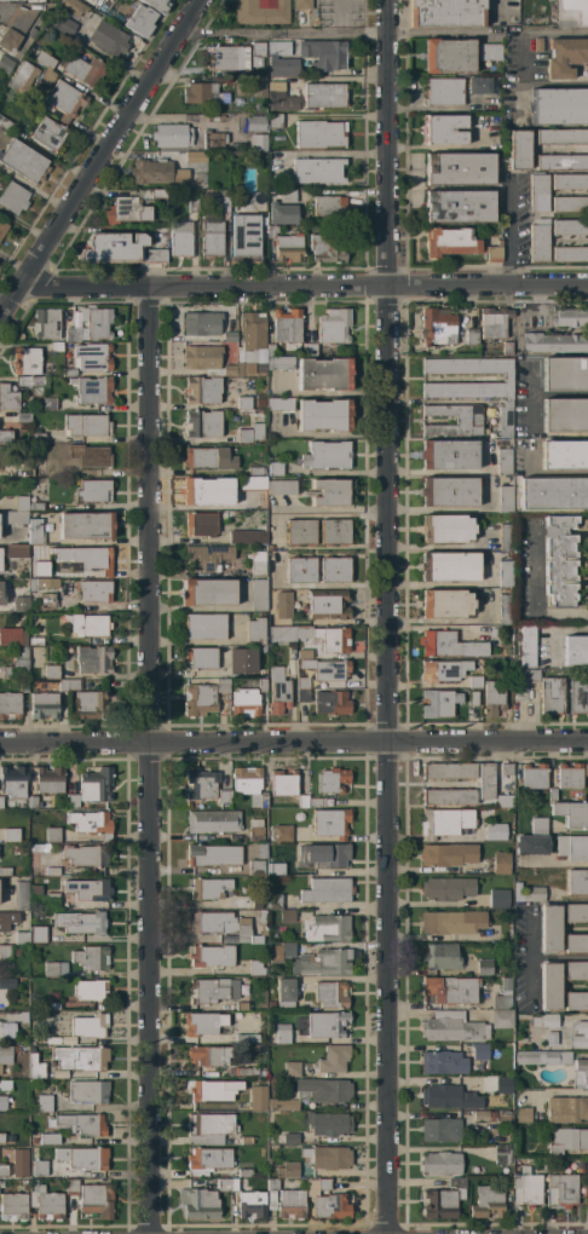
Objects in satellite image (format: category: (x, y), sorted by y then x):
building: (131, 0)
building: (302, 4)
road: (341, 4)
building: (157, 5)
building: (73, 6)
road: (495, 7)
building: (261, 12)
parking lot: (341, 13)
building: (446, 13)
building: (571, 13)
building: (140, 21)
building: (63, 24)
building: (16, 28)
road: (382, 33)
building: (108, 38)
building: (538, 45)
building: (258, 48)
building: (490, 51)
building: (323, 53)
building: (449, 56)
building: (565, 56)
building: (45, 58)
building: (227, 58)
building: (282, 59)
building: (259, 62)
building: (6, 63)
building: (86, 70)
building: (47, 76)
building: (23, 80)
building: (480, 85)
building: (260, 86)
building: (444, 91)
building: (204, 93)
building: (325, 94)
building: (282, 97)
building: (67, 99)
building: (560, 105)
building: (479, 119)
building: (275, 120)
building: (253, 122)
building: (5, 123)
building: (445, 129)
building: (50, 133)
building: (321, 133)
building: (172, 135)
building: (559, 135)
building: (214, 139)
building: (259, 143)
building: (519, 150)
building: (196, 156)
road: (99, 160)
building: (24, 161)
building: (561, 161)
building: (460, 168)
building: (317, 169)
building: (156, 172)
building: (197, 178)
building: (570, 181)
building: (538, 191)
building: (264, 196)
building: (13, 197)
building: (220, 202)
building: (570, 203)
building: (192, 204)
building: (329, 206)
building: (459, 206)
building: (132, 207)
building: (284, 208)
building: (570, 226)
building: (2, 229)
building: (272, 231)
road: (509, 231)
building: (246, 232)
building: (212, 237)
building: (180, 238)
building: (450, 241)
building: (538, 243)
building: (288, 247)
building: (111, 248)
building: (156, 248)
building: (327, 248)
building: (495, 253)
building: (570, 253)
road: (306, 282)
building: (570, 317)
building: (495, 322)
building: (46, 324)
building: (99, 324)
building: (203, 324)
building: (334, 325)
building: (438, 327)
building: (287, 328)
building: (73, 334)
building: (472, 335)
building: (230, 338)
building: (250, 341)
building: (554, 342)
building: (57, 346)
building: (507, 348)
building: (272, 350)
building: (311, 350)
building: (92, 357)
building: (27, 361)
building: (207, 361)
building: (281, 363)
building: (70, 373)
building: (324, 373)
building: (566, 373)
building: (30, 381)
building: (474, 384)
building: (92, 390)
building: (203, 390)
road: (559, 394)
building: (7, 398)
building: (50, 403)
building: (244, 403)
building: (260, 403)
building: (281, 404)
building: (260, 414)
building: (566, 414)
building: (324, 415)
building: (24, 417)
building: (468, 420)
building: (87, 425)
building: (201, 426)
building: (250, 433)
building: (6, 436)
building: (449, 454)
building: (565, 454)
building: (327, 455)
building: (90, 456)
building: (204, 456)
building: (505, 461)
building: (42, 466)
building: (276, 468)
building: (255, 471)
building: (254, 483)
building: (282, 486)
building: (94, 491)
building: (207, 491)
building: (330, 491)
building: (449, 491)
building: (554, 494)
building: (506, 498)
building: (36, 504)
building: (16, 513)
building: (201, 524)
building: (86, 525)
building: (446, 529)
building: (335, 531)
building: (36, 532)
building: (301, 532)
building: (248, 536)
building: (506, 536)
building: (18, 552)
building: (87, 557)
building: (207, 558)
building: (1, 559)
building: (560, 560)
building: (258, 564)
building: (449, 566)
building: (40, 569)
building: (301, 569)
building: (335, 569)
building: (506, 573)
building: (24, 590)
building: (96, 590)
building: (208, 592)
building: (0, 594)
road: (534, 594)
building: (259, 595)
building: (47, 600)
building: (446, 604)
building: (284, 605)
building: (328, 605)
building: (506, 609)
road: (387, 617)
building: (90, 624)
building: (206, 627)
building: (255, 630)
road: (555, 630)
building: (11, 636)
building: (313, 636)
building: (36, 640)
building: (449, 645)
building: (528, 646)
building: (576, 650)
building: (293, 651)
building: (305, 655)
building: (201, 658)
building: (94, 659)
building: (242, 661)
building: (17, 665)
building: (328, 669)
building: (440, 670)
building: (52, 671)
building: (475, 681)
building: (304, 682)
building: (69, 685)
building: (24, 686)
building: (523, 688)
building: (278, 691)
building: (203, 694)
building: (552, 694)
building: (302, 696)
building: (578, 696)
building: (494, 697)
building: (246, 702)
building: (332, 702)
building: (439, 703)
building: (45, 704)
building: (92, 704)
building: (10, 705)
building: (474, 710)
road: (293, 742)
road: (149, 760)
building: (507, 768)
building: (587, 769)
building: (450, 771)
building: (534, 775)
building: (571, 775)
building: (50, 779)
building: (247, 779)
building: (15, 780)
building: (333, 780)
building: (486, 780)
building: (283, 783)
building: (96, 784)
building: (201, 784)
building: (518, 794)
building: (553, 794)
building: (225, 795)
building: (449, 796)
building: (4, 800)
building: (73, 800)
building: (259, 800)
building: (302, 801)
building: (503, 801)
building: (33, 802)
building: (317, 802)
building: (572, 812)
building: (213, 820)
building: (445, 821)
building: (94, 823)
building: (332, 823)
building: (538, 825)
building: (255, 830)
building: (282, 832)
building: (490, 832)
building: (12, 835)
building: (52, 835)
building: (40, 837)
building: (531, 844)
building: (572, 847)
building: (259, 850)
building: (214, 854)
building: (449, 854)
building: (86, 855)
building: (299, 855)
building: (330, 855)
building: (501, 861)
building: (256, 867)
building: (276, 869)
building: (5, 871)
building: (52, 871)
building: (33, 872)
building: (578, 882)
building: (208, 888)
building: (448, 888)
building: (88, 889)
building: (328, 890)
building: (534, 894)
building: (22, 895)
building: (42, 898)
building: (500, 898)
building: (275, 899)
building: (240, 904)
building: (576, 912)
building: (287, 916)
building: (7, 919)
building: (452, 922)
building: (86, 923)
building: (226, 925)
building: (550, 927)
building: (329, 928)
building: (38, 933)
building: (22, 938)
building: (576, 942)
building: (5, 951)
building: (16, 951)
building: (281, 952)
building: (211, 956)
building: (442, 956)
building: (92, 957)
building: (325, 961)
building: (485, 967)
building: (256, 968)
building: (56, 969)
building: (576, 970)
building: (7, 984)
building: (506, 984)
building: (550, 985)
building: (91, 990)
building: (212, 990)
building: (450, 990)
building: (286, 993)
building: (332, 994)
building: (53, 1001)
building: (576, 1001)
building: (502, 1002)
building: (271, 1004)
building: (243, 1005)
building: (17, 1016)
building: (502, 1019)
building: (552, 1020)
building: (201, 1023)
building: (327, 1023)
building: (90, 1026)
building: (452, 1027)
building: (6, 1028)
building: (282, 1033)
building: (586, 1033)
building: (243, 1038)
building: (558, 1039)
building: (53, 1040)
building: (482, 1051)
building: (7, 1053)
building: (208, 1055)
building: (81, 1057)
building: (544, 1057)
building: (333, 1059)
building: (444, 1062)
building: (36, 1067)
building: (0, 1068)
building: (292, 1069)
building: (242, 1071)
building: (580, 1072)
building: (263, 1074)
building: (507, 1079)
building: (7, 1084)
building: (495, 1084)
building: (209, 1090)
building: (327, 1090)
building: (73, 1095)
building: (449, 1096)
building: (255, 1097)
building: (279, 1101)
building: (1, 1102)
building: (566, 1109)
building: (524, 1114)
building: (480, 1115)
building: (494, 1115)
building: (503, 1117)
building: (329, 1123)
building: (82, 1124)
building: (209, 1128)
building: (442, 1129)
building: (279, 1138)
building: (290, 1138)
building: (247, 1140)
building: (52, 1141)
building: (566, 1141)
building: (503, 1154)
building: (328, 1157)
building: (83, 1158)
building: (208, 1160)
building: (21, 1163)
building: (442, 1163)
building: (39, 1167)
building: (2, 1169)
building: (288, 1170)
building: (246, 1172)
building: (587, 1181)
building: (1, 1183)
building: (225, 1184)
building: (240, 1184)
building: (508, 1184)
building: (25, 1187)
building: (73, 1187)
building: (526, 1188)
building: (563, 1190)
building: (272, 1193)
building: (97, 1199)
building: (328, 1200)
building: (443, 1200)
building: (488, 1201)
building: (46, 1203)
building: (198, 1203)
building: (310, 1204)
building: (252, 1205)
building: (292, 1205)
building: (13, 1206)

